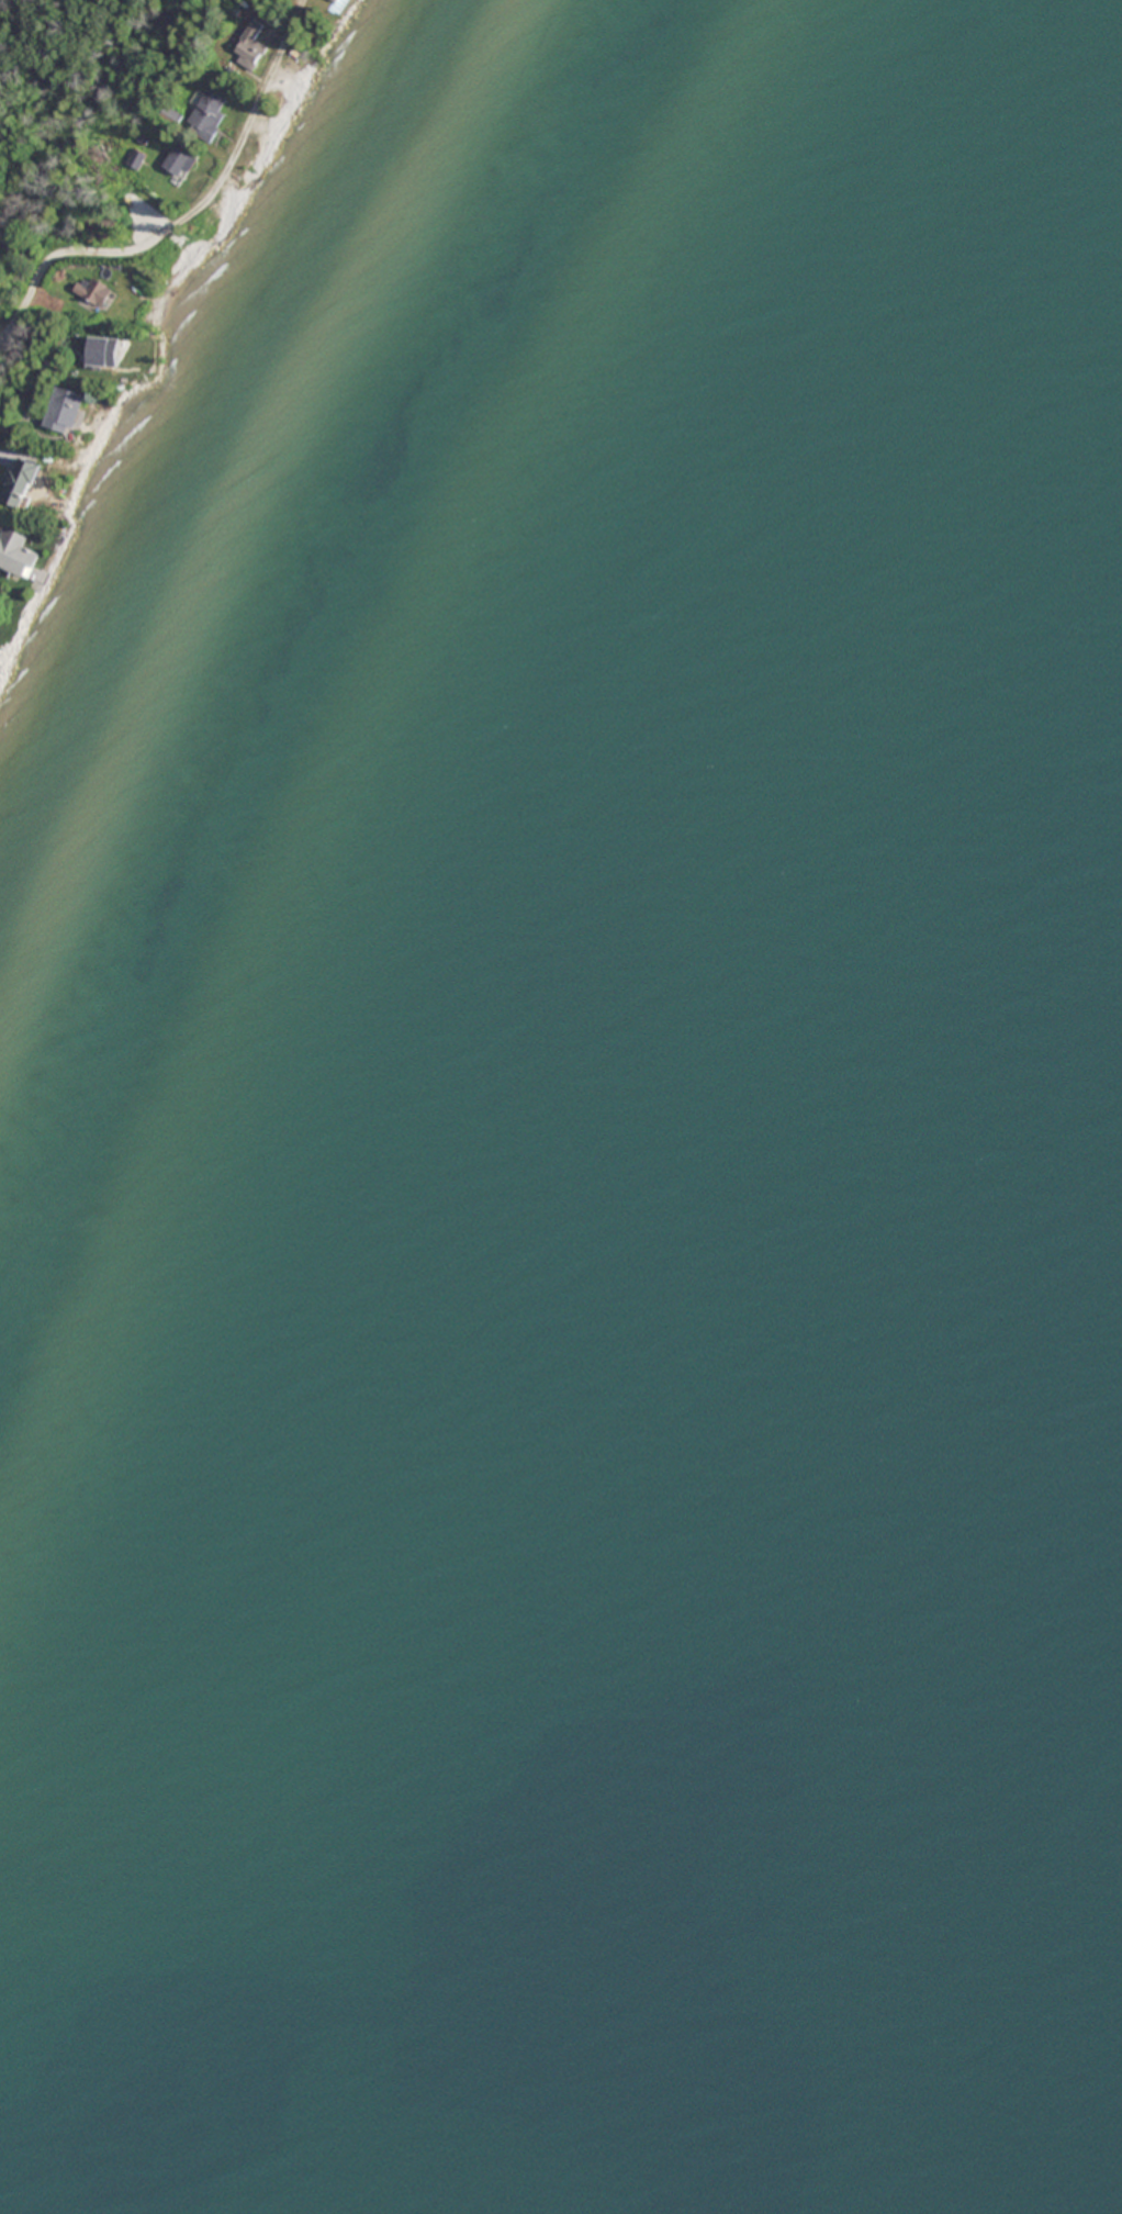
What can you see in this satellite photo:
building: (335, 0)
building: (250, 46)
building: (206, 114)
building: (181, 164)
road: (184, 217)
building: (93, 289)
building: (139, 348)
building: (67, 411)
building: (27, 483)
building: (18, 553)

